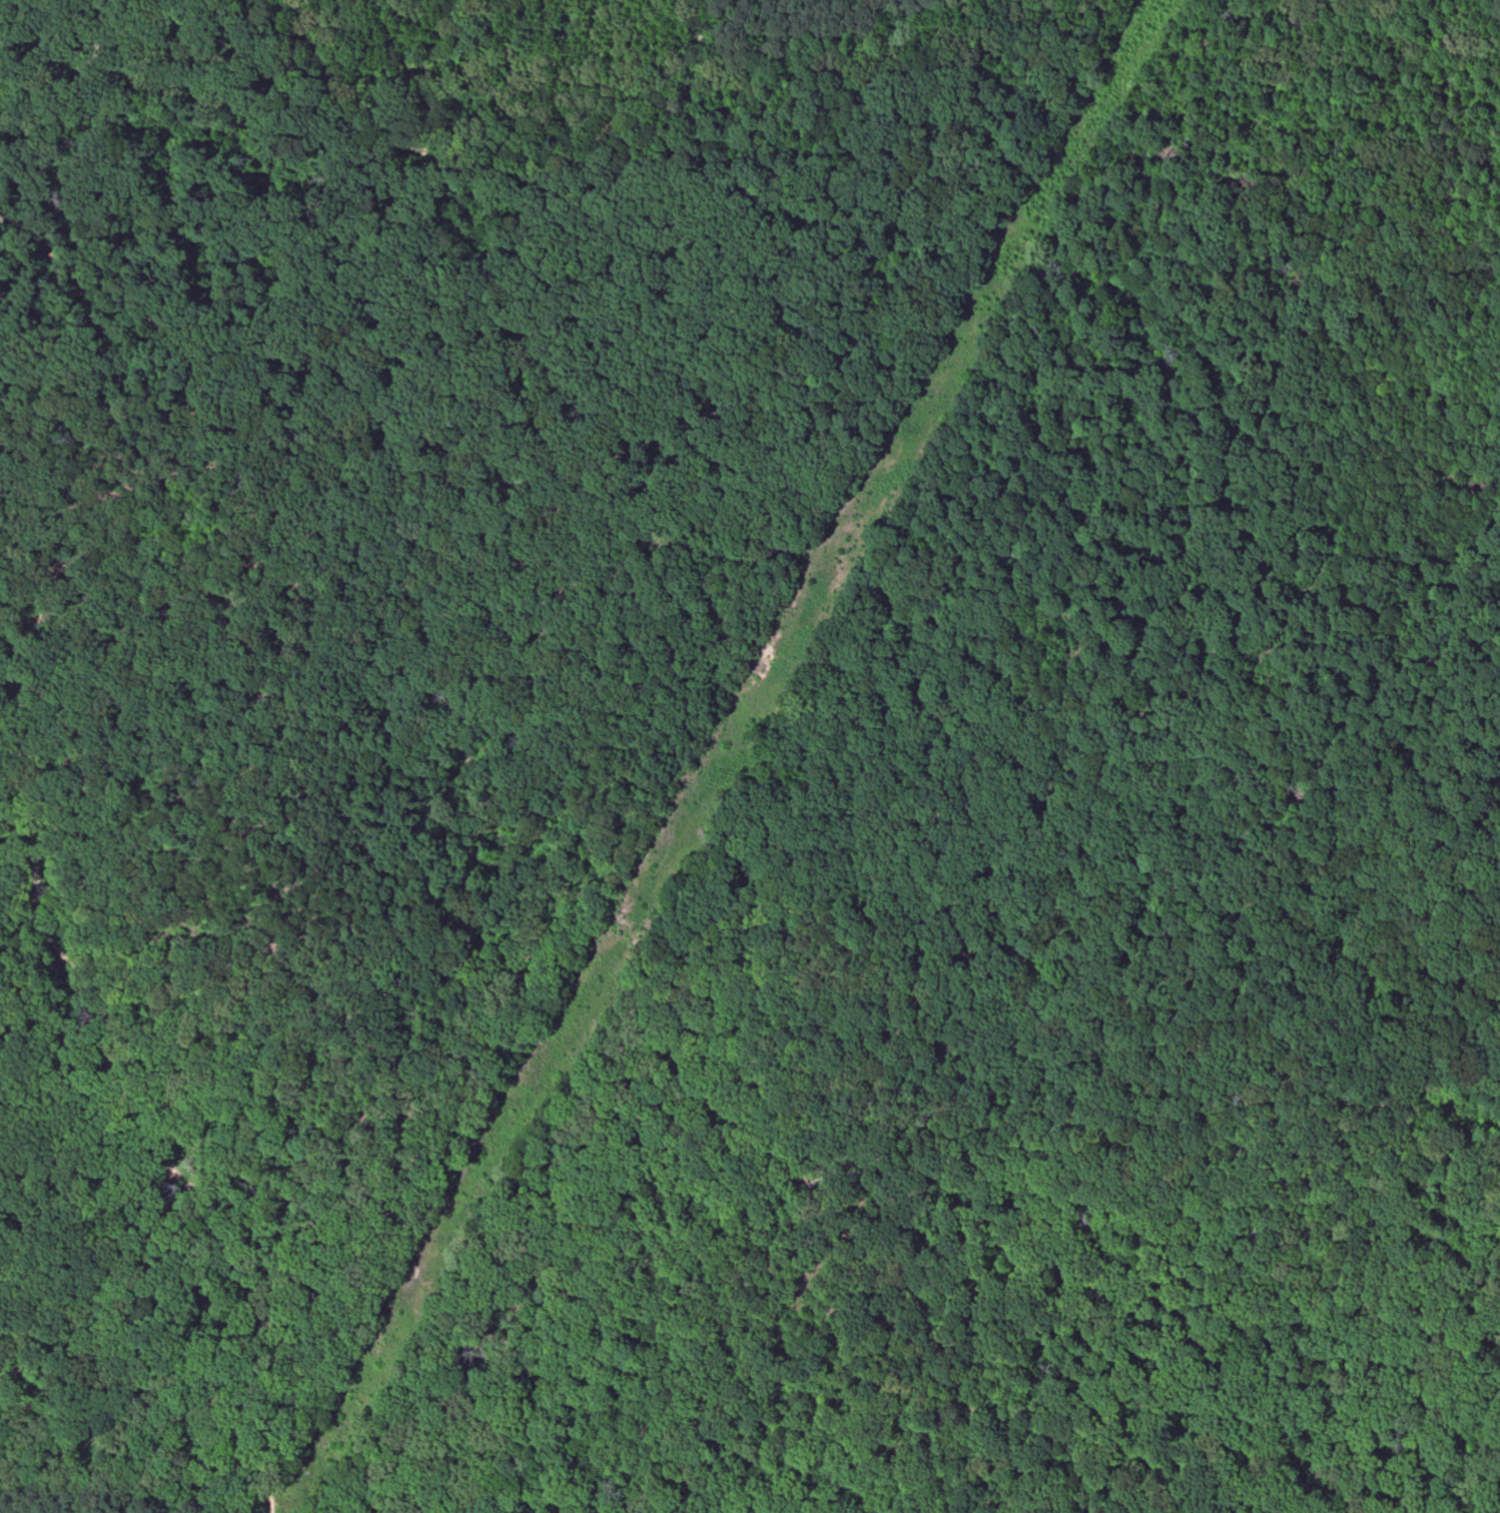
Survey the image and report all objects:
road: (76, 122)
road: (122, 1075)

